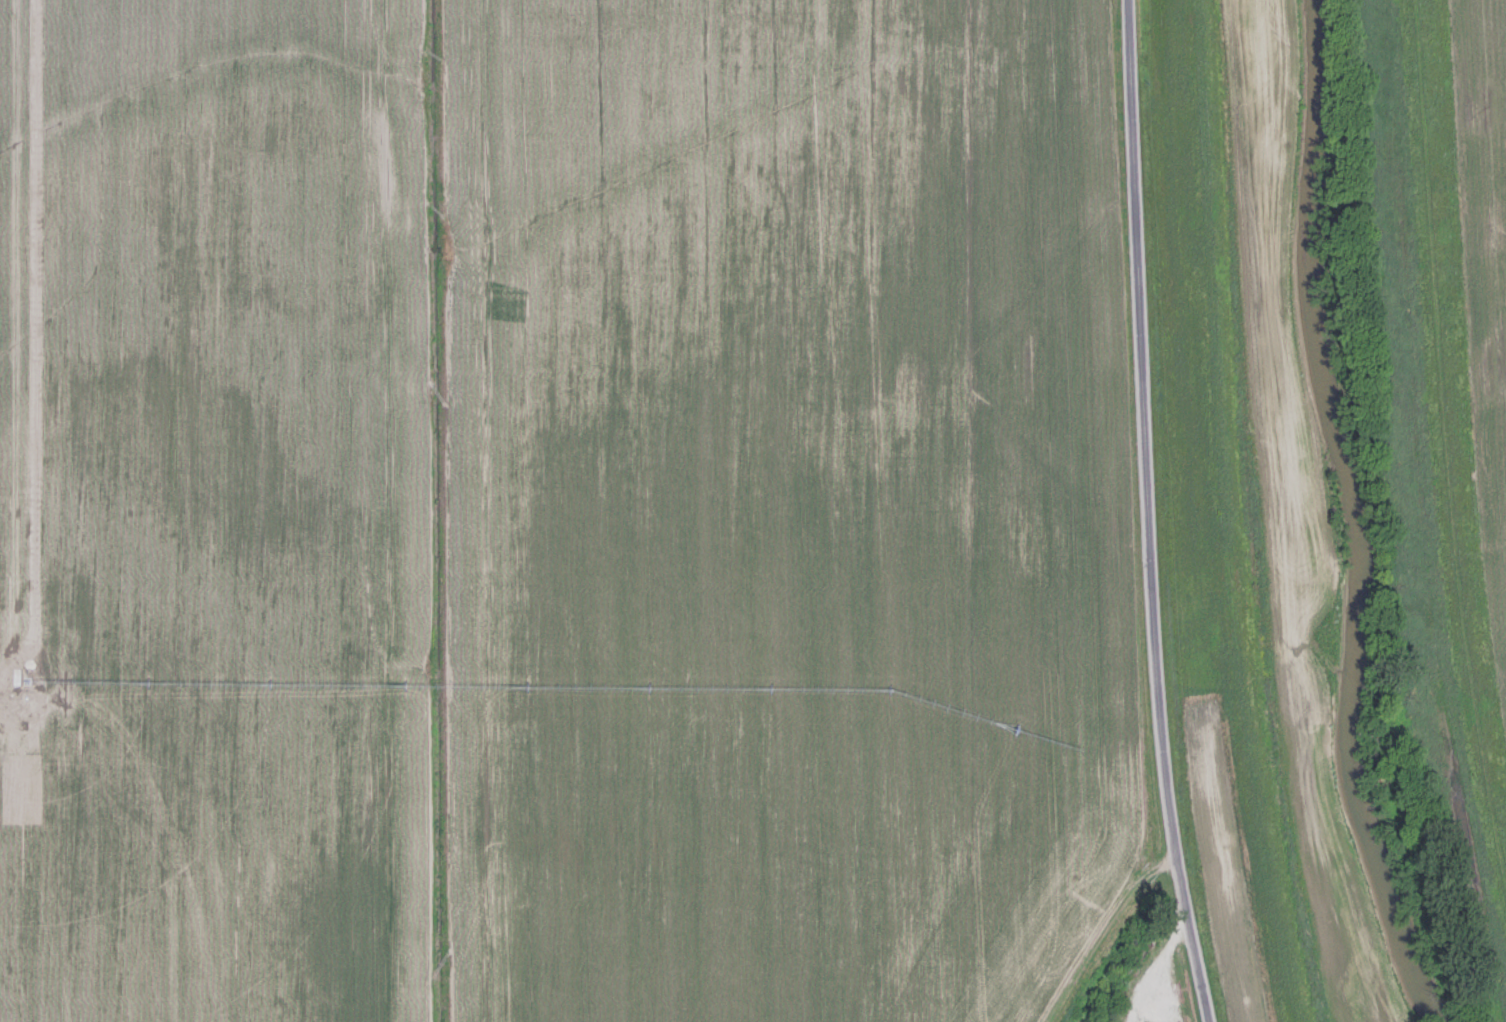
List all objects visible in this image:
road: (1083, 514)

